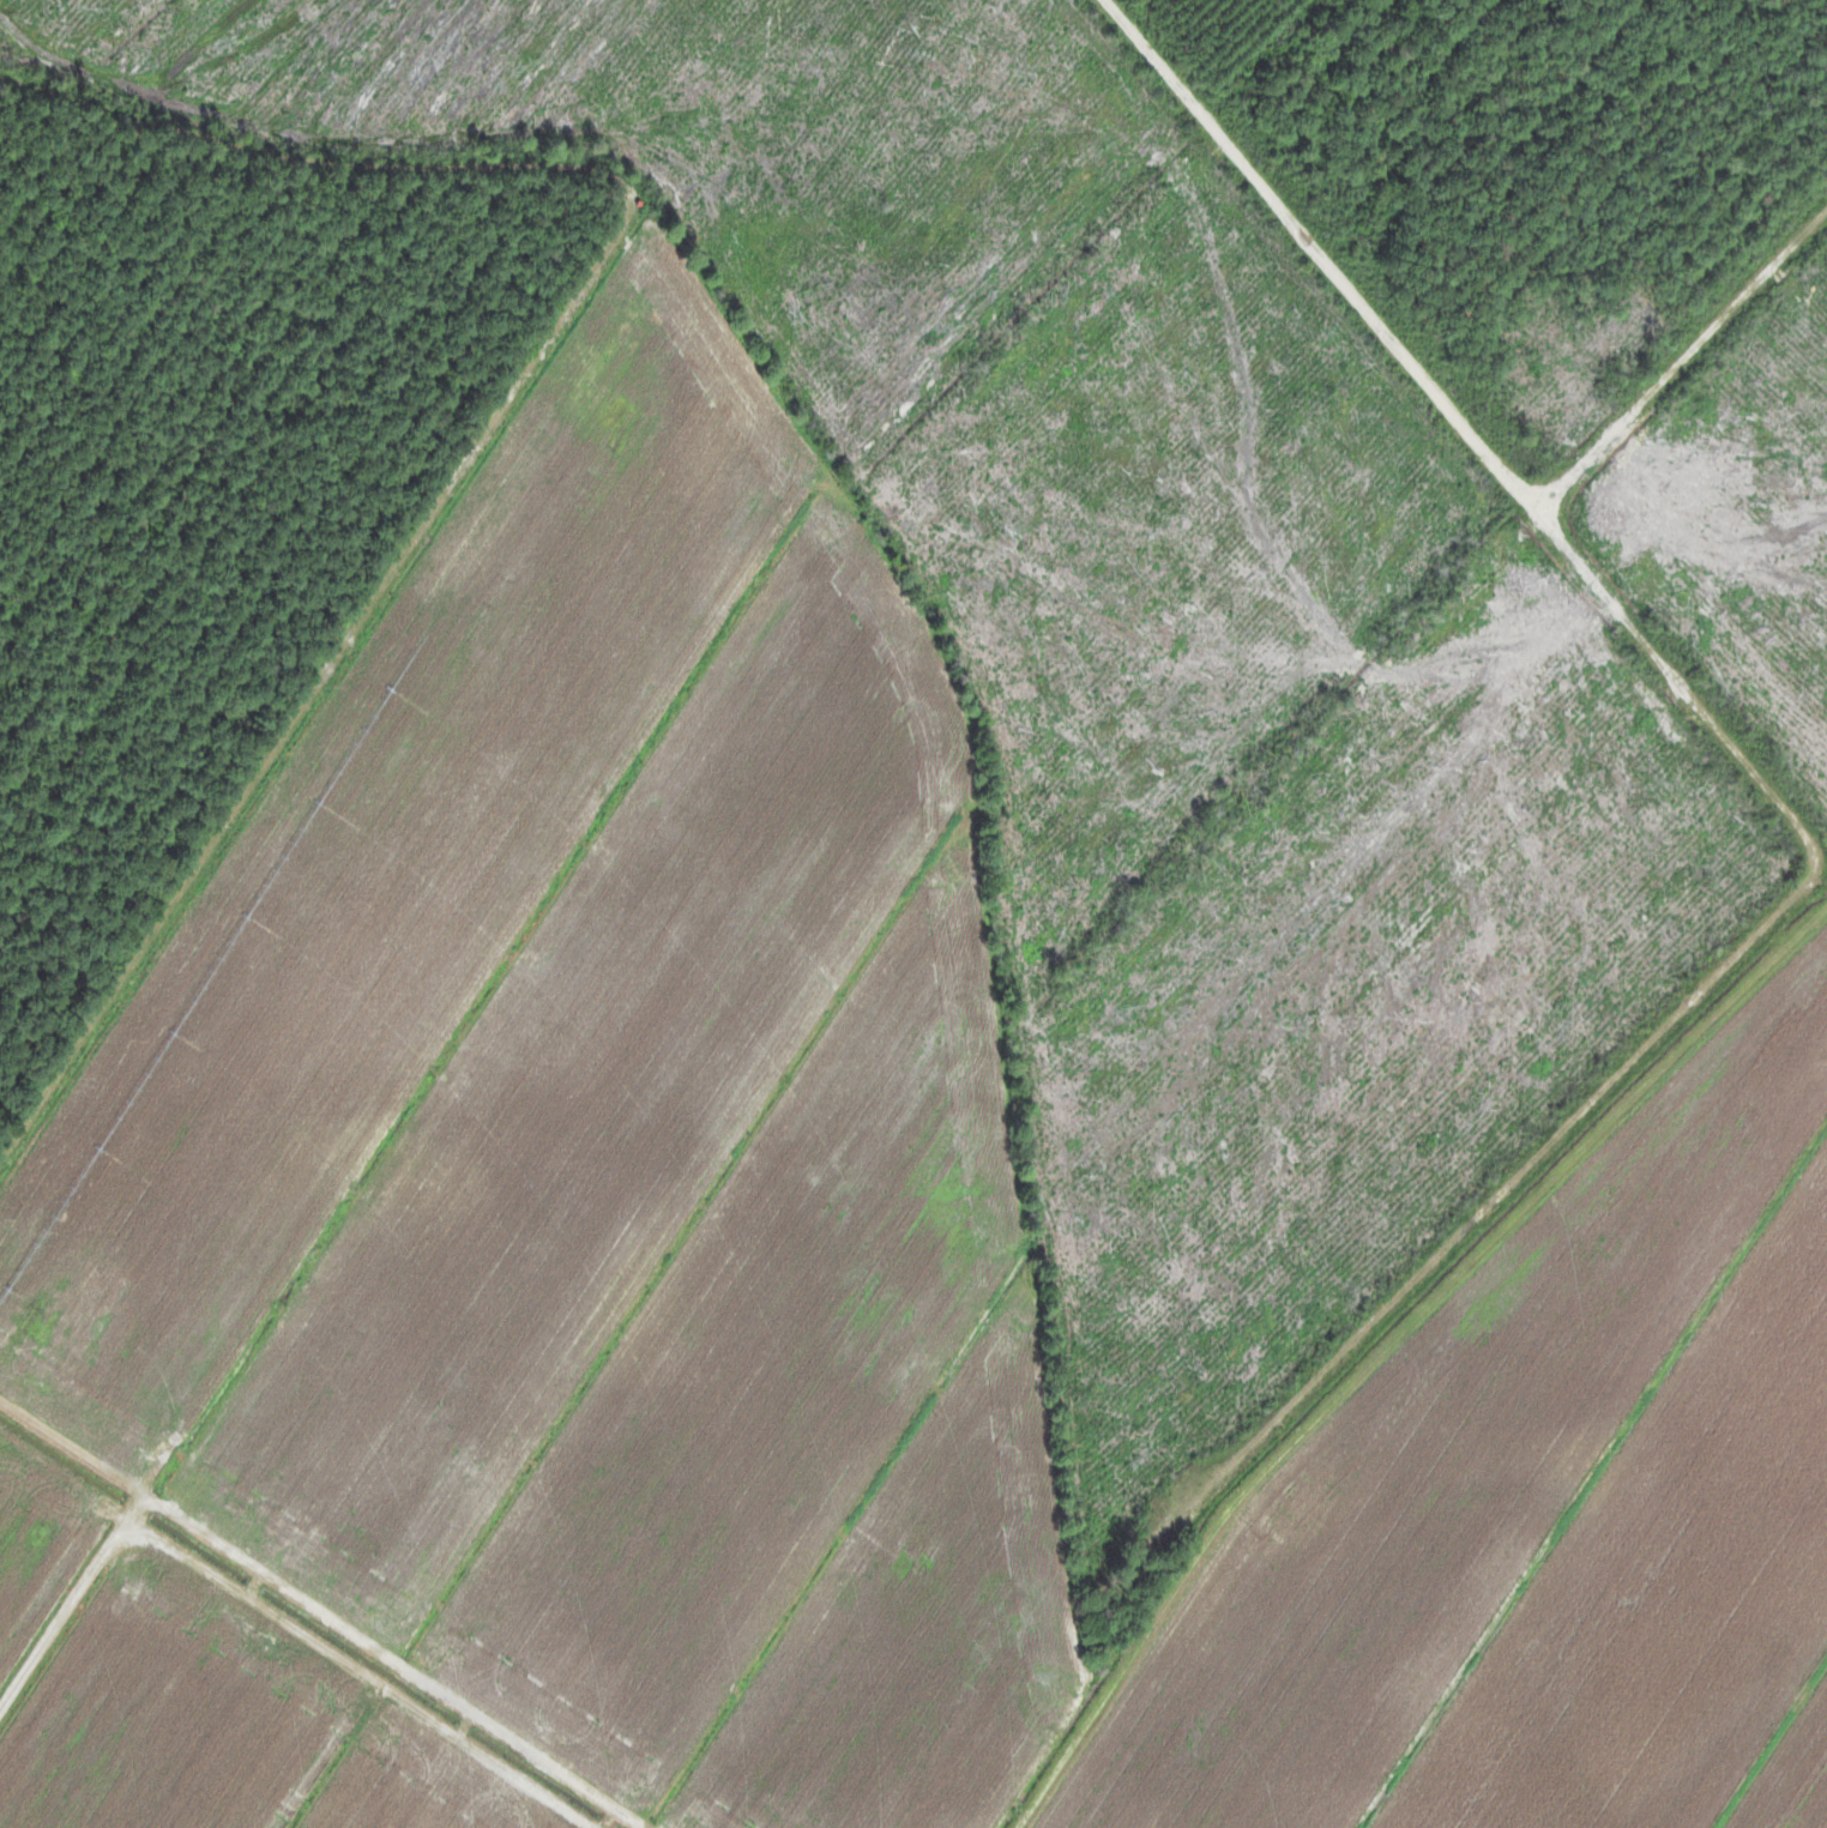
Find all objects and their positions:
road: (1671, 366)
road: (1777, 798)
road: (282, 1589)

